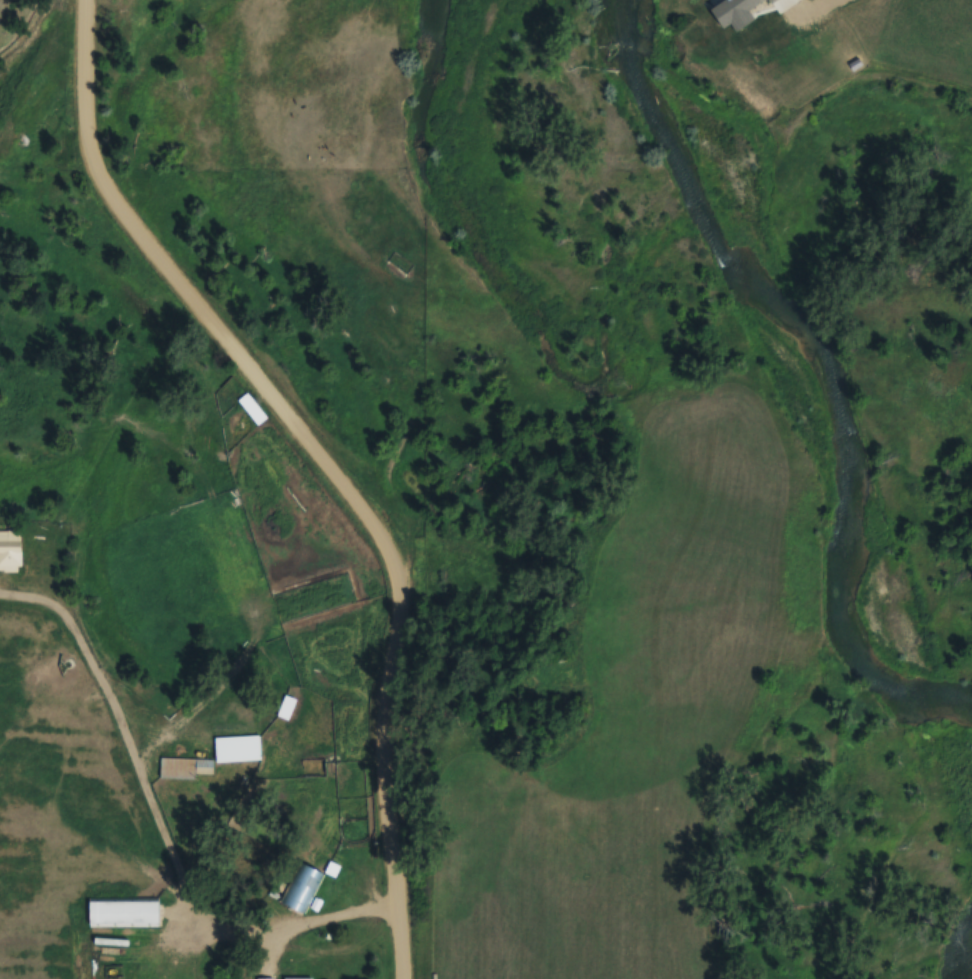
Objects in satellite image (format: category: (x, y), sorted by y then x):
river: (809, 370)
building: (252, 408)
road: (320, 460)
building: (10, 550)
building: (286, 707)
building: (185, 767)
road: (160, 821)
building: (301, 887)
building: (123, 913)
river: (961, 961)
building: (265, 978)
building: (297, 978)

